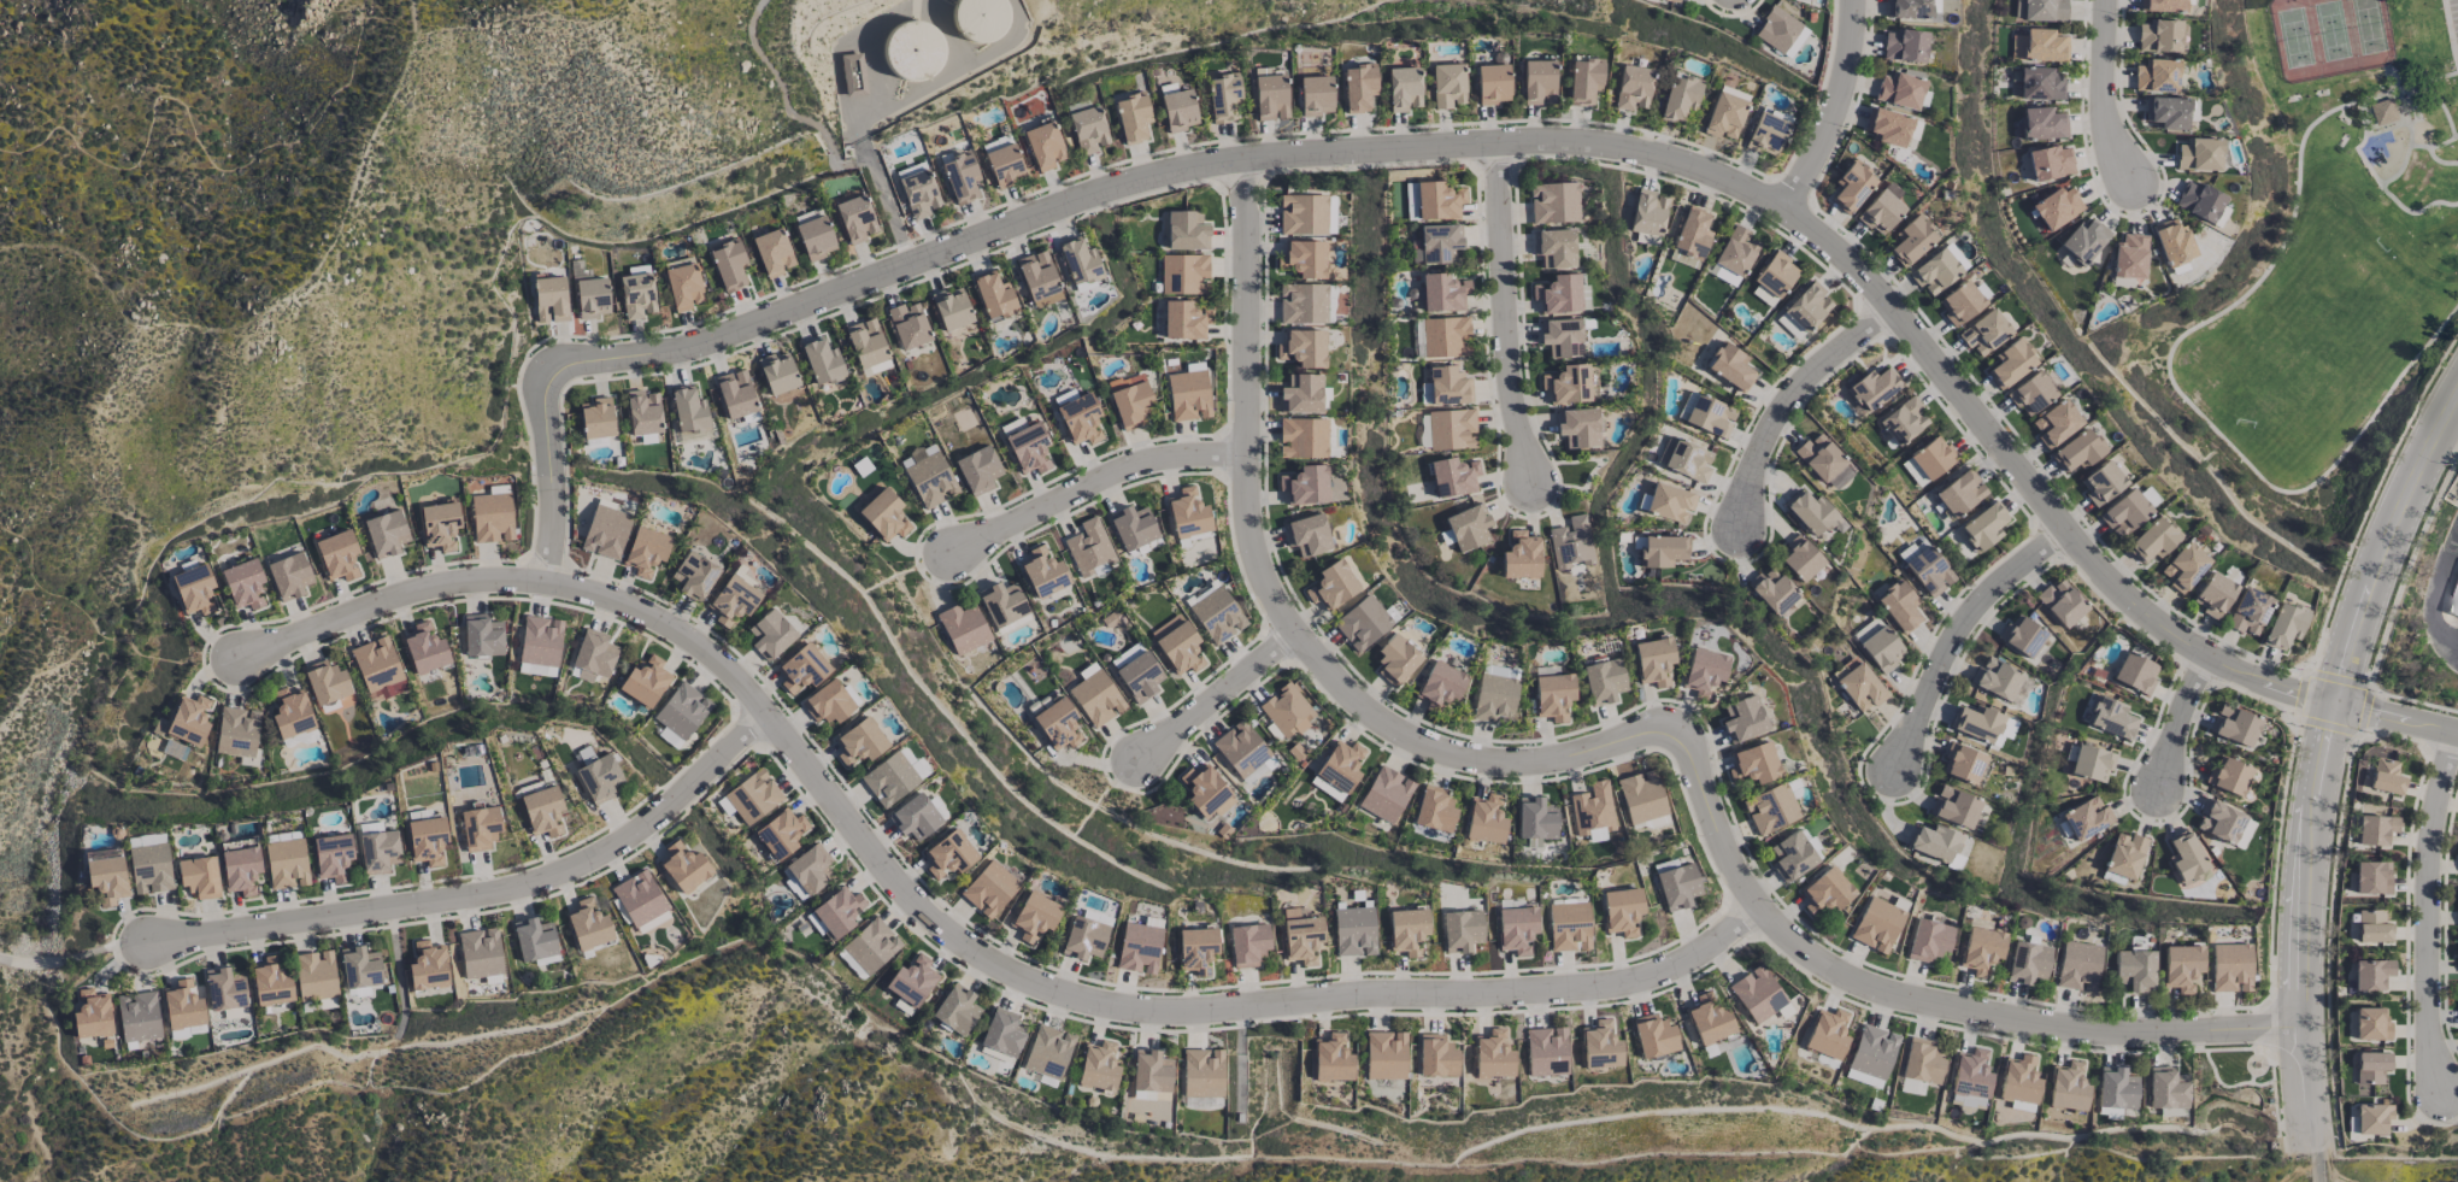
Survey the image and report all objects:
building: (1671, 0)
building: (2162, 5)
building: (1907, 8)
building: (2044, 10)
building: (978, 19)
parking lot: (2453, 20)
building: (1780, 31)
road: (2451, 33)
building: (2158, 36)
park: (2330, 37)
building: (1904, 46)
building: (2039, 46)
building: (912, 49)
building: (2156, 75)
road: (2387, 78)
building: (1584, 80)
building: (1539, 82)
building: (1492, 83)
building: (2035, 83)
building: (1447, 86)
building: (1358, 87)
building: (1633, 87)
building: (1404, 88)
building: (1899, 89)
building: (1315, 95)
road: (2103, 95)
building: (1223, 96)
building: (1680, 96)
road: (783, 104)
building: (1177, 110)
road: (1834, 111)
building: (2383, 111)
building: (2165, 112)
building: (1725, 113)
road: (2445, 113)
building: (1131, 117)
building: (2042, 123)
building: (1886, 127)
building: (1088, 129)
road: (194, 133)
building: (1765, 134)
road: (1493, 145)
road: (2409, 145)
building: (1043, 146)
building: (2198, 154)
building: (1002, 160)
road: (2436, 160)
building: (2050, 161)
building: (959, 176)
road: (877, 184)
building: (1852, 186)
building: (918, 193)
road: (2392, 196)
building: (1410, 201)
building: (1437, 201)
building: (2199, 201)
building: (1552, 202)
building: (2056, 207)
building: (1881, 208)
building: (1647, 212)
building: (1302, 214)
building: (854, 219)
building: (1186, 230)
building: (1692, 234)
building: (815, 237)
building: (1912, 239)
park: (2338, 240)
building: (2083, 241)
building: (1439, 242)
building: (2172, 242)
building: (1553, 247)
building: (1736, 251)
building: (772, 252)
building: (2129, 257)
building: (1302, 258)
building: (1080, 263)
building: (729, 265)
building: (1934, 271)
building: (1183, 274)
building: (1775, 274)
building: (1722, 275)
building: (1037, 280)
building: (683, 286)
building: (1442, 292)
building: (590, 294)
building: (636, 295)
building: (993, 295)
building: (1763, 295)
building: (549, 299)
building: (1958, 302)
building: (1301, 304)
building: (951, 308)
building: (1803, 310)
road: (1505, 316)
building: (1183, 321)
building: (907, 325)
building: (1983, 333)
building: (1445, 336)
building: (1560, 337)
building: (865, 343)
park: (2315, 343)
building: (1301, 347)
road: (2169, 357)
building: (821, 361)
building: (2011, 361)
building: (1729, 366)
building: (875, 367)
building: (777, 372)
building: (1566, 384)
building: (1445, 387)
building: (1871, 389)
building: (2029, 393)
building: (735, 394)
building: (1300, 394)
building: (1187, 395)
building: (1129, 400)
road: (1790, 402)
building: (642, 412)
building: (689, 414)
building: (1706, 414)
building: (595, 418)
building: (1080, 419)
building: (1903, 421)
road: (2451, 422)
building: (2054, 423)
building: (1577, 428)
building: (1451, 429)
building: (1301, 437)
building: (1028, 448)
building: (2077, 451)
building: (1931, 457)
building: (1688, 460)
building: (1823, 461)
building: (977, 470)
building: (928, 476)
building: (1452, 477)
road: (1088, 480)
building: (2100, 482)
building: (1305, 486)
building: (1959, 493)
building: (1669, 502)
building: (1810, 512)
building: (2123, 512)
building: (1187, 513)
building: (883, 514)
building: (490, 517)
building: (439, 525)
building: (1131, 527)
building: (1468, 527)
building: (1983, 528)
building: (605, 531)
building: (386, 533)
building: (1306, 535)
building: (2153, 539)
building: (1569, 543)
building: (1089, 548)
building: (645, 551)
building: (1662, 551)
building: (337, 554)
building: (1521, 555)
building: (1799, 558)
building: (2183, 566)
building: (1925, 568)
building: (1042, 572)
building: (289, 576)
building: (693, 576)
building: (242, 584)
building: (1331, 586)
building: (193, 589)
building: (1772, 590)
building: (2212, 594)
road: (2434, 598)
building: (733, 600)
building: (2453, 600)
building: (2060, 602)
building: (1001, 604)
building: (1898, 606)
road: (1274, 610)
building: (2248, 612)
building: (1216, 616)
building: (1112, 621)
building: (1362, 623)
building: (2283, 625)
road: (96, 627)
building: (963, 628)
road: (1960, 633)
building: (770, 635)
building: (482, 636)
building: (2021, 636)
building: (540, 641)
building: (1176, 645)
building: (1877, 645)
building: (424, 648)
building: (593, 653)
building: (1395, 659)
building: (1652, 660)
building: (377, 669)
building: (801, 669)
building: (1500, 671)
building: (1704, 672)
building: (2135, 672)
building: (581, 675)
building: (1137, 676)
building: (1995, 678)
building: (1603, 680)
building: (645, 682)
building: (325, 684)
building: (1439, 684)
building: (1860, 687)
road: (1216, 695)
building: (1552, 695)
building: (1095, 698)
building: (1494, 698)
building: (828, 702)
building: (682, 710)
building: (1286, 711)
building: (290, 713)
building: (2110, 717)
building: (188, 719)
building: (1742, 719)
building: (1976, 723)
road: (2177, 723)
building: (1057, 724)
building: (2234, 725)
building: (236, 731)
building: (669, 737)
building: (859, 742)
building: (1242, 752)
building: (1753, 763)
building: (1962, 763)
building: (2091, 763)
road: (2324, 763)
building: (1336, 770)
building: (2228, 776)
building: (2385, 776)
building: (599, 778)
building: (889, 778)
building: (1205, 792)
building: (1384, 794)
building: (752, 796)
building: (1640, 796)
building: (1954, 806)
building: (1434, 808)
building: (1770, 808)
building: (541, 810)
building: (1592, 811)
building: (915, 817)
building: (1535, 818)
building: (2086, 818)
building: (1484, 819)
building: (2218, 822)
building: (478, 828)
building: (2375, 829)
building: (780, 834)
building: (2242, 834)
building: (145, 839)
building: (425, 840)
building: (1934, 842)
building: (378, 851)
building: (2457, 853)
building: (948, 854)
building: (1792, 855)
building: (2124, 855)
building: (331, 857)
building: (2184, 857)
building: (286, 863)
building: (683, 868)
building: (149, 869)
building: (808, 869)
building: (240, 870)
building: (106, 875)
building: (199, 877)
building: (2371, 877)
building: (1677, 886)
building: (988, 889)
road: (482, 892)
building: (1824, 892)
building: (637, 898)
building: (1889, 899)
road: (2427, 910)
building: (837, 911)
building: (1621, 911)
building: (1033, 917)
building: (652, 922)
building: (1876, 924)
building: (587, 925)
building: (1568, 927)
building: (2371, 927)
road: (945, 929)
building: (1515, 929)
building: (1406, 930)
building: (1460, 930)
building: (1353, 931)
building: (1300, 935)
building: (1083, 937)
building: (533, 940)
building: (1928, 940)
building: (1247, 945)
building: (870, 946)
building: (1137, 948)
building: (1981, 951)
building: (480, 953)
building: (2456, 953)
road: (73, 959)
building: (2025, 962)
building: (427, 966)
building: (2077, 966)
building: (2178, 966)
building: (359, 968)
building: (2229, 968)
building: (2133, 970)
building: (2370, 974)
building: (314, 975)
building: (911, 981)
building: (270, 984)
building: (224, 989)
building: (1756, 994)
building: (182, 1005)
road: (1923, 1006)
building: (955, 1010)
building: (92, 1015)
building: (137, 1016)
building: (1707, 1019)
building: (2370, 1024)
building: (1002, 1033)
building: (178, 1034)
building: (1827, 1034)
building: (1653, 1036)
building: (1599, 1047)
building: (1872, 1051)
building: (1047, 1052)
building: (1546, 1052)
building: (1384, 1055)
building: (1492, 1055)
building: (1436, 1057)
building: (1330, 1059)
building: (1921, 1060)
building: (1098, 1066)
building: (2370, 1066)
building: (1151, 1071)
building: (1201, 1074)
building: (1970, 1074)
building: (1863, 1078)
building: (2018, 1080)
building: (1911, 1087)
building: (2066, 1087)
building: (2116, 1088)
building: (2166, 1088)
building: (1966, 1100)
building: (2371, 1118)
road: (2318, 1169)

